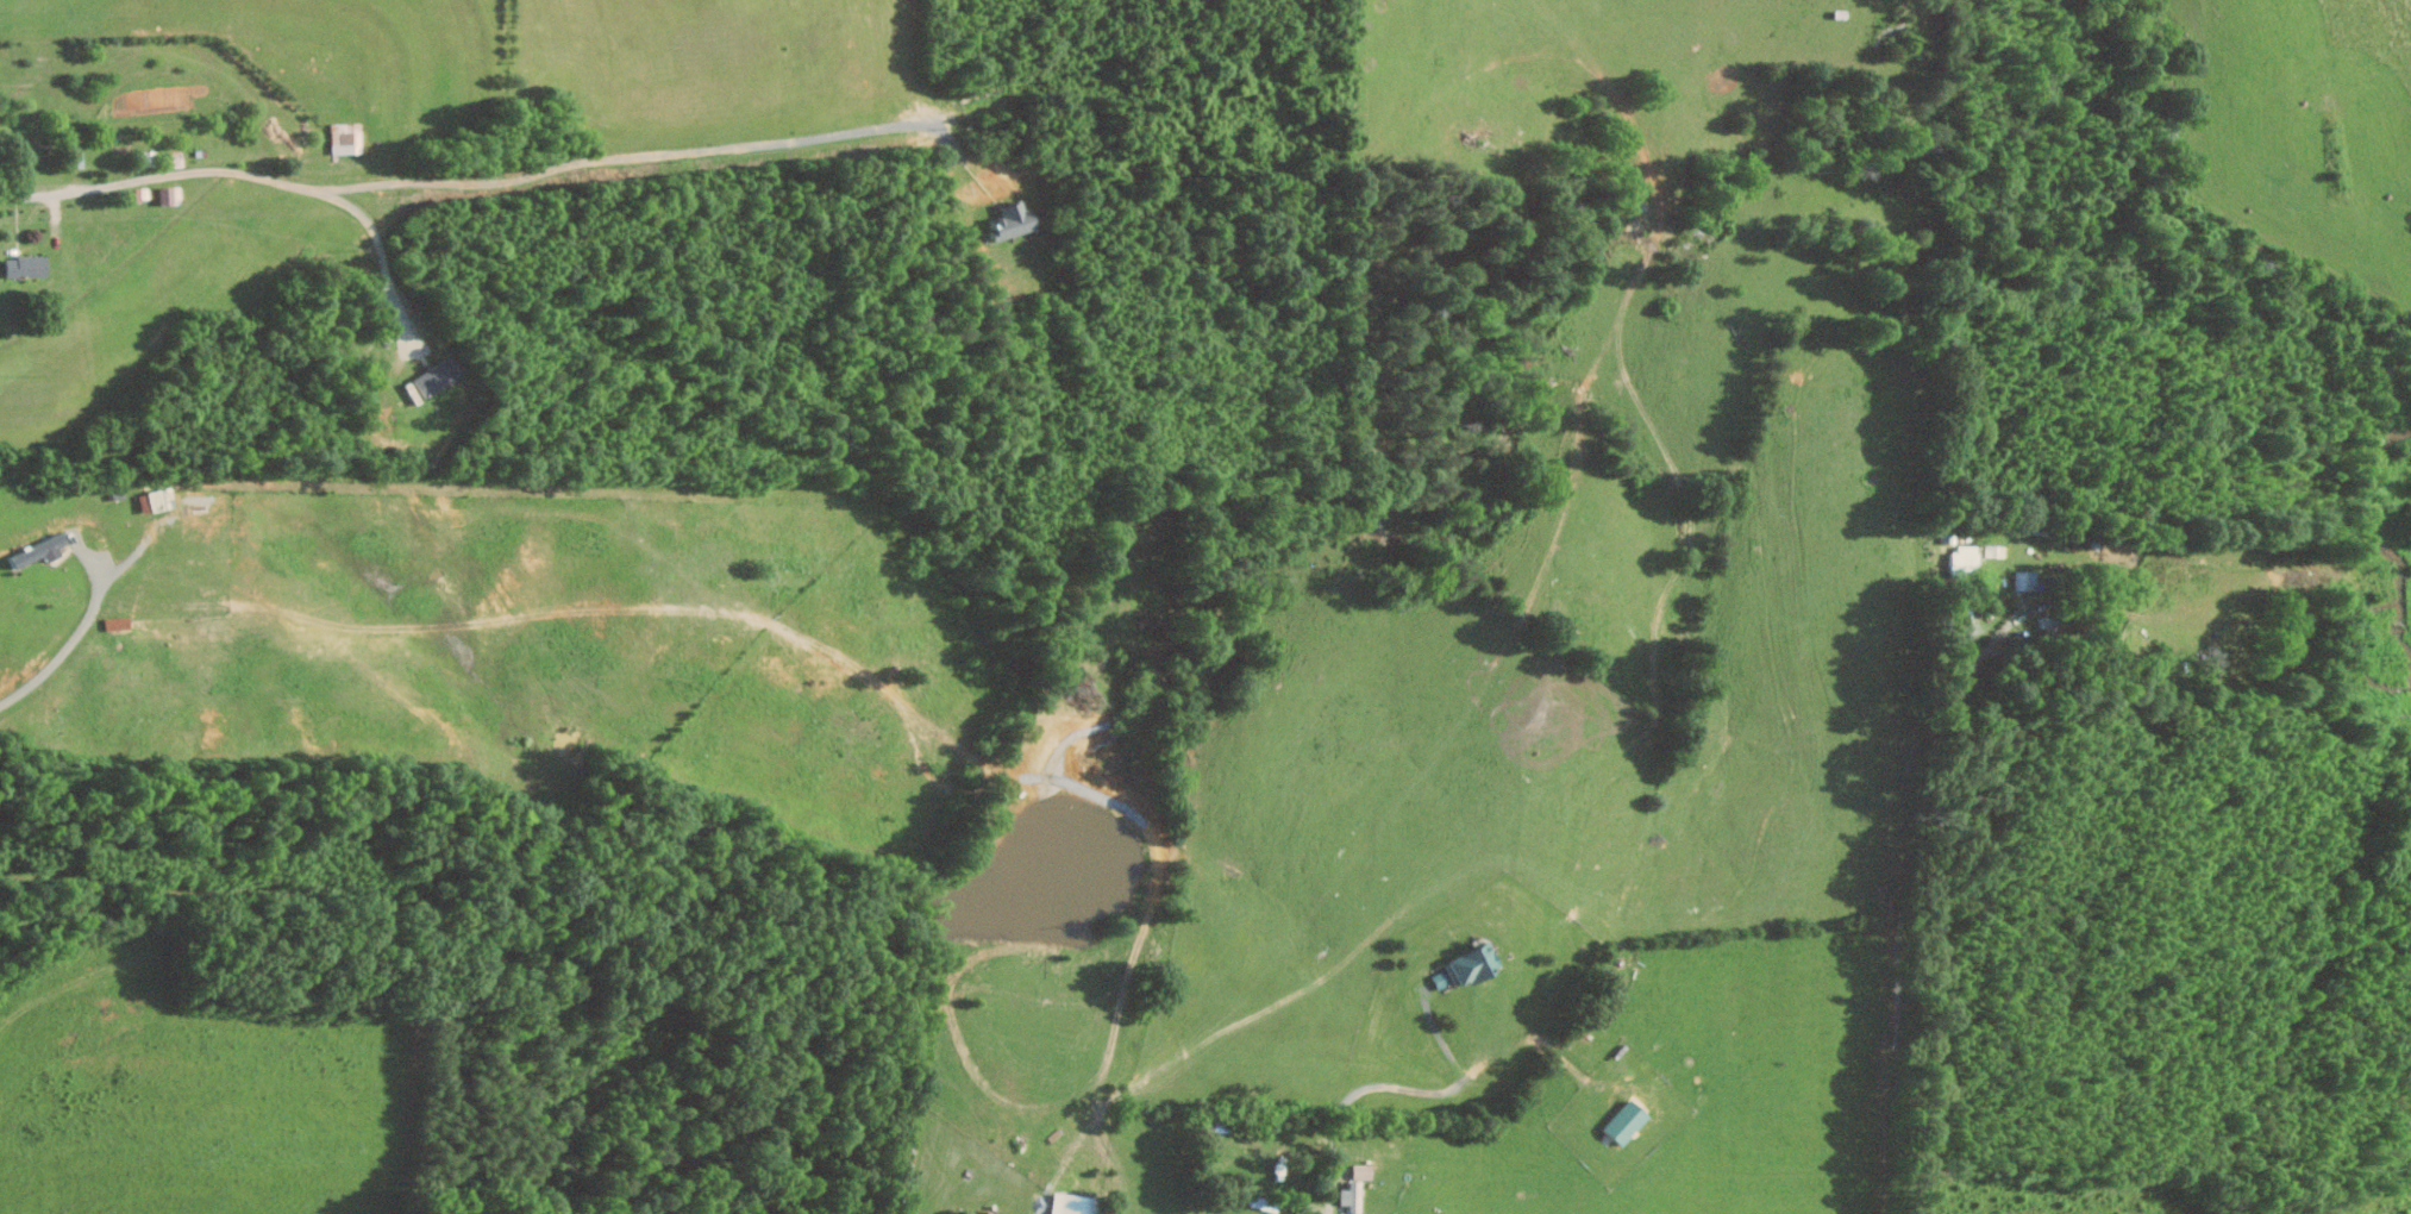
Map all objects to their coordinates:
building: (349, 138)
road: (645, 152)
road: (237, 171)
building: (144, 193)
building: (173, 194)
building: (1014, 221)
building: (29, 265)
building: (438, 377)
building: (159, 500)
building: (43, 551)
building: (1967, 557)
building: (2028, 578)
building: (119, 622)
road: (84, 626)
road: (1910, 887)
road: (1390, 1088)
building: (1628, 1120)
building: (1358, 1185)
building: (1075, 1203)

